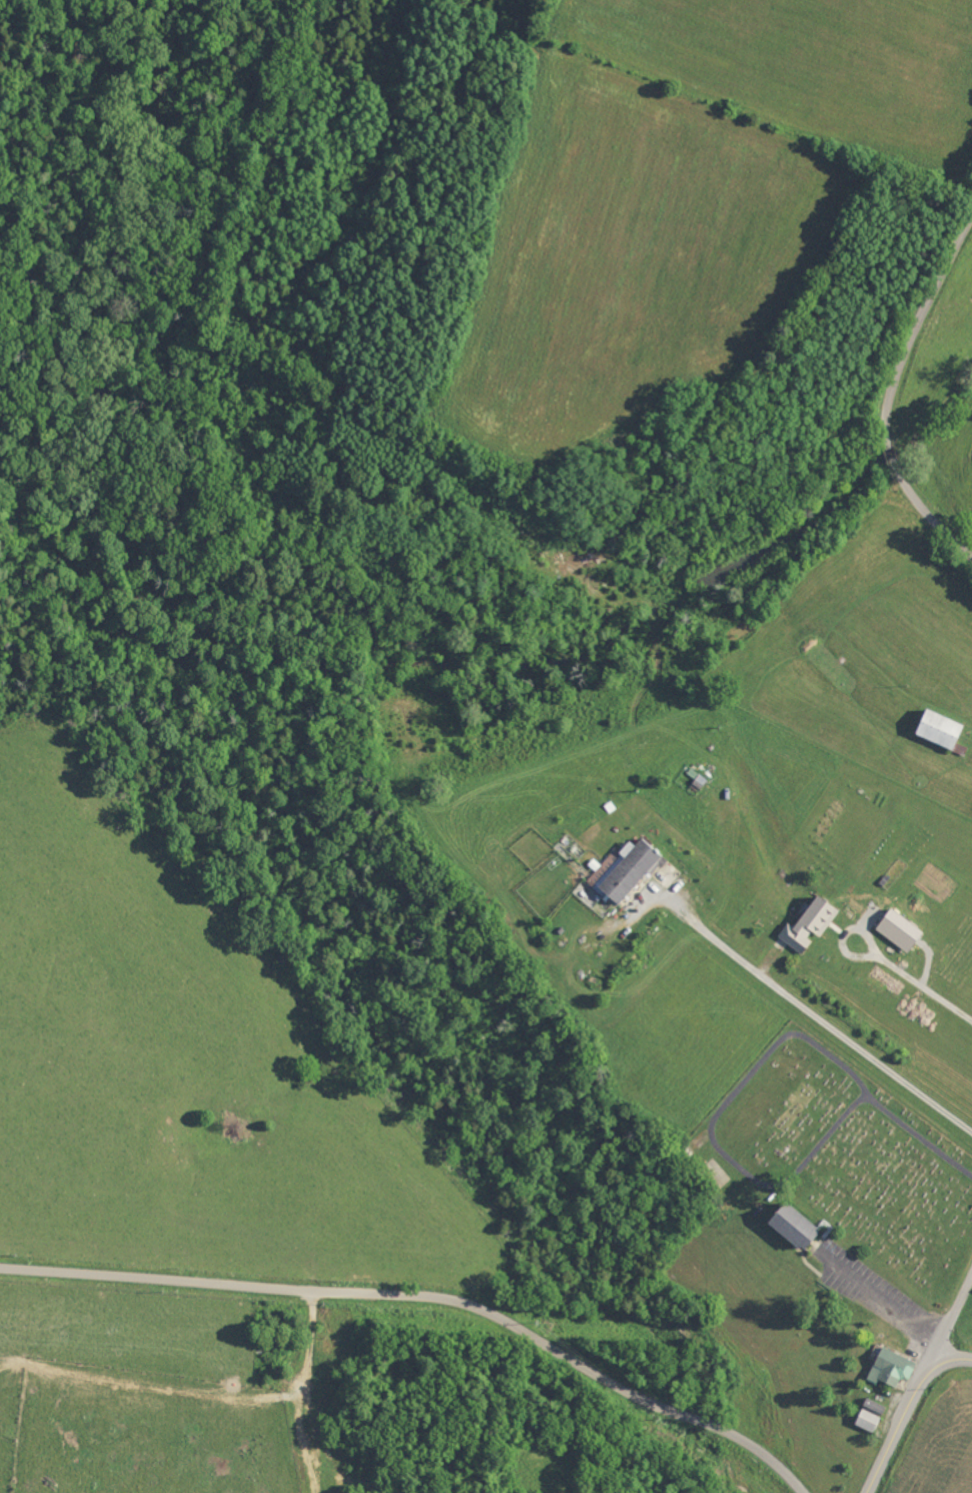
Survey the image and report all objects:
road: (895, 389)
building: (940, 729)
building: (625, 871)
building: (810, 924)
building: (900, 930)
road: (844, 932)
road: (923, 984)
road: (812, 1013)
park: (848, 1158)
building: (794, 1226)
road: (430, 1294)
road: (951, 1321)
building: (892, 1368)
road: (908, 1411)
building: (868, 1421)

